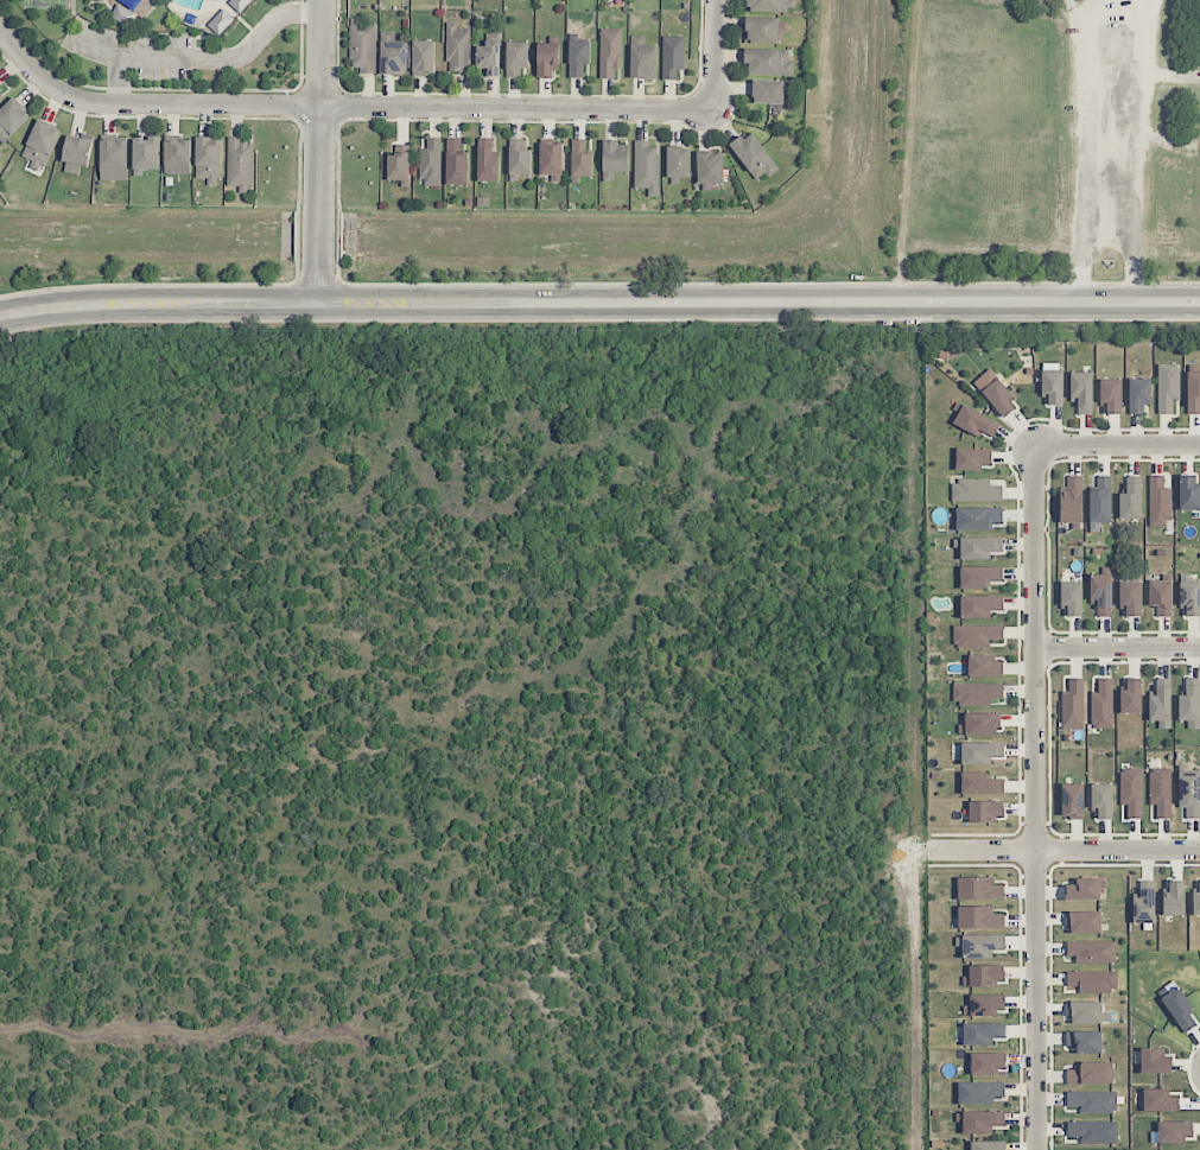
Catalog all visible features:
building: (770, 5)
building: (122, 14)
building: (221, 21)
building: (761, 30)
building: (362, 46)
building: (457, 49)
building: (611, 51)
building: (393, 52)
building: (672, 56)
building: (423, 57)
building: (488, 57)
building: (516, 57)
building: (578, 57)
road: (716, 57)
road: (201, 58)
building: (642, 58)
building: (547, 59)
building: (768, 62)
building: (0, 82)
road: (116, 82)
building: (768, 91)
building: (1, 95)
road: (341, 110)
building: (12, 119)
road: (1081, 142)
building: (42, 145)
road: (317, 151)
road: (1132, 151)
building: (146, 153)
building: (76, 154)
building: (177, 155)
building: (754, 155)
building: (580, 158)
building: (113, 159)
building: (209, 159)
building: (551, 159)
building: (614, 159)
building: (520, 160)
building: (678, 161)
building: (240, 163)
building: (431, 163)
building: (456, 163)
building: (398, 164)
building: (488, 165)
building: (646, 167)
building: (710, 167)
road: (599, 303)
building: (1053, 387)
building: (1167, 387)
building: (995, 392)
building: (1081, 392)
building: (1193, 393)
building: (1138, 394)
building: (1111, 395)
building: (973, 421)
road: (1117, 445)
building: (972, 458)
building: (974, 490)
building: (1189, 494)
building: (1072, 500)
building: (1130, 501)
building: (1158, 502)
building: (977, 517)
building: (978, 547)
road: (433, 559)
building: (979, 576)
building: (1100, 593)
building: (1161, 597)
building: (1189, 597)
building: (1071, 598)
building: (1130, 598)
building: (980, 605)
building: (976, 635)
road: (1117, 647)
building: (984, 666)
building: (976, 693)
building: (1131, 697)
building: (1161, 703)
building: (1101, 704)
building: (1189, 704)
building: (1073, 705)
building: (979, 724)
building: (980, 752)
building: (980, 783)
building: (1131, 790)
building: (1160, 792)
building: (1189, 793)
road: (1034, 798)
building: (1072, 800)
building: (1101, 801)
building: (985, 811)
road: (1065, 850)
building: (979, 888)
building: (1081, 889)
building: (1174, 898)
building: (1195, 902)
building: (1144, 903)
building: (979, 917)
building: (1084, 922)
building: (1090, 952)
building: (984, 974)
building: (1093, 980)
building: (986, 1004)
building: (1177, 1006)
building: (1086, 1012)
building: (983, 1033)
building: (1085, 1041)
building: (1155, 1061)
building: (988, 1062)
building: (1091, 1073)
building: (979, 1092)
building: (1158, 1100)
building: (1092, 1101)
building: (980, 1122)
building: (1093, 1131)
building: (1175, 1131)
building: (988, 1145)

